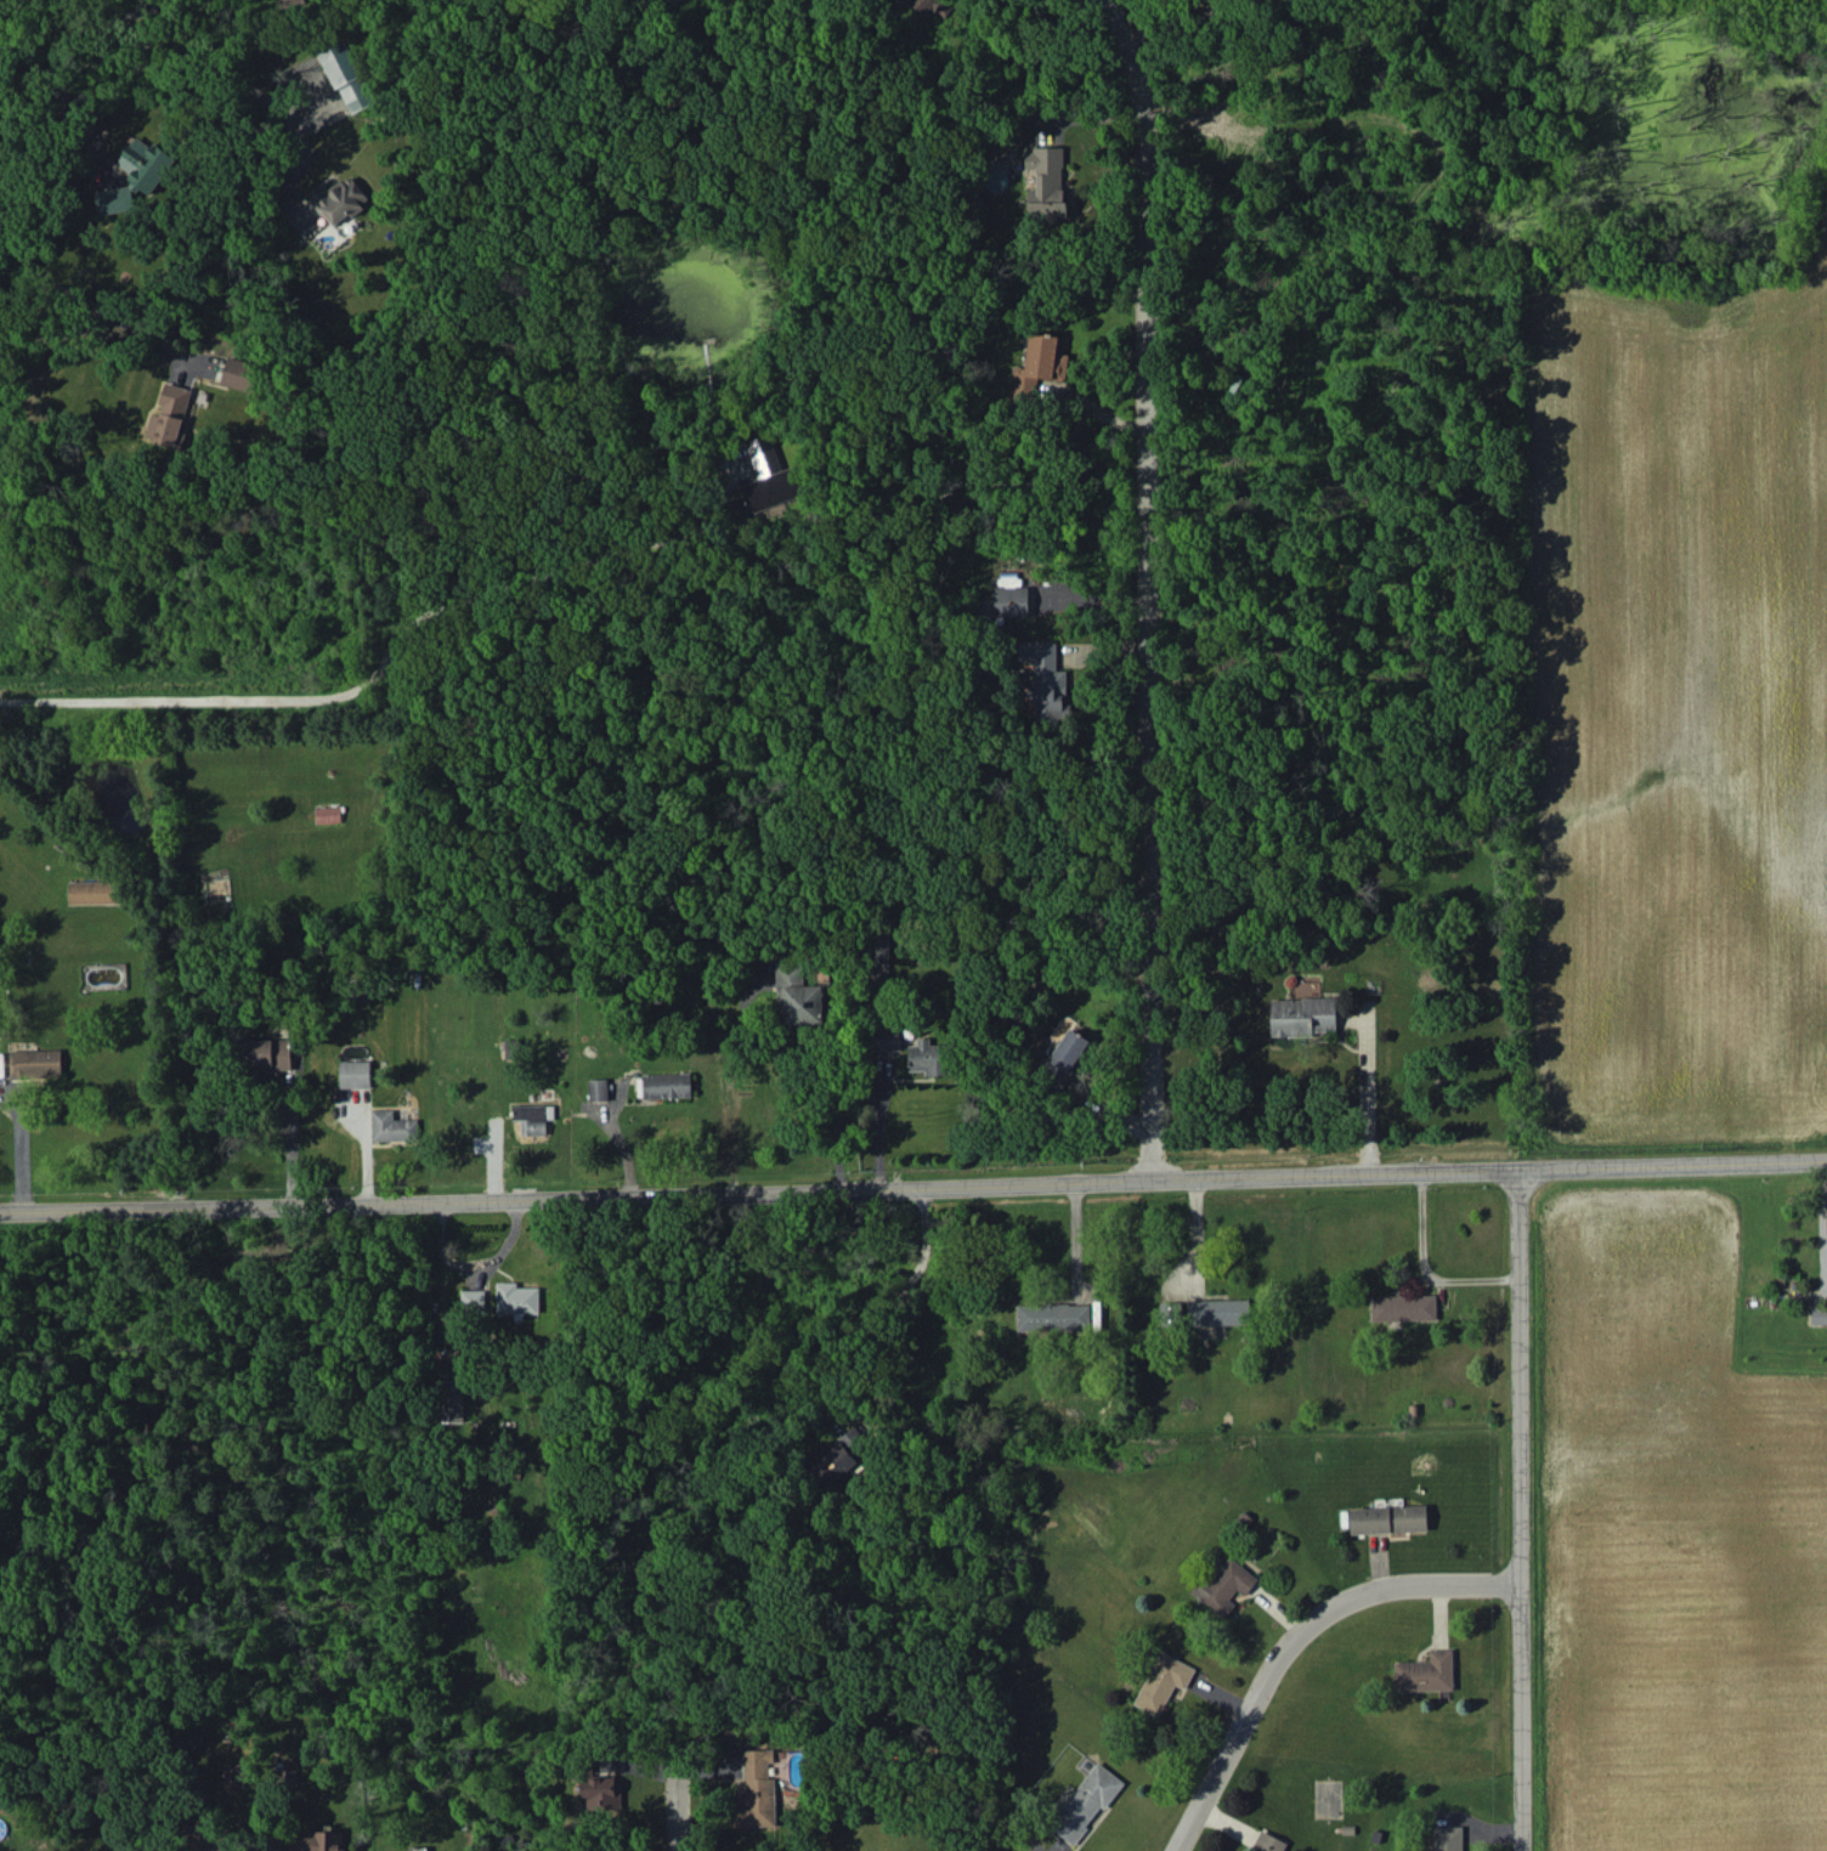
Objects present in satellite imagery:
building: (289, 2)
building: (920, 7)
road: (1190, 19)
road: (86, 26)
road: (237, 67)
building: (346, 75)
road: (57, 98)
building: (136, 175)
building: (1046, 183)
building: (340, 199)
road: (86, 308)
building: (1040, 363)
building: (242, 374)
building: (172, 417)
building: (770, 477)
road: (1135, 588)
building: (1011, 601)
building: (1045, 678)
road: (356, 689)
building: (328, 814)
building: (95, 891)
building: (876, 955)
building: (798, 997)
building: (1303, 1015)
building: (886, 1038)
building: (268, 1053)
building: (1067, 1055)
building: (928, 1057)
building: (35, 1063)
road: (810, 1066)
building: (355, 1074)
building: (663, 1085)
building: (599, 1089)
road: (1367, 1093)
building: (533, 1117)
road: (879, 1121)
building: (392, 1126)
road: (913, 1188)
road: (1822, 1212)
road: (1425, 1266)
road: (439, 1278)
building: (516, 1298)
road: (884, 1300)
building: (1403, 1307)
building: (1218, 1312)
building: (1053, 1315)
building: (1818, 1315)
building: (452, 1400)
building: (838, 1459)
road: (1522, 1510)
building: (1388, 1518)
building: (1223, 1586)
road: (1299, 1642)
road: (684, 1643)
building: (1425, 1672)
building: (1163, 1682)
building: (233, 1774)
building: (599, 1791)
building: (1086, 1802)
building: (1447, 1838)
building: (205, 1839)
building: (315, 1840)
building: (1268, 1842)

